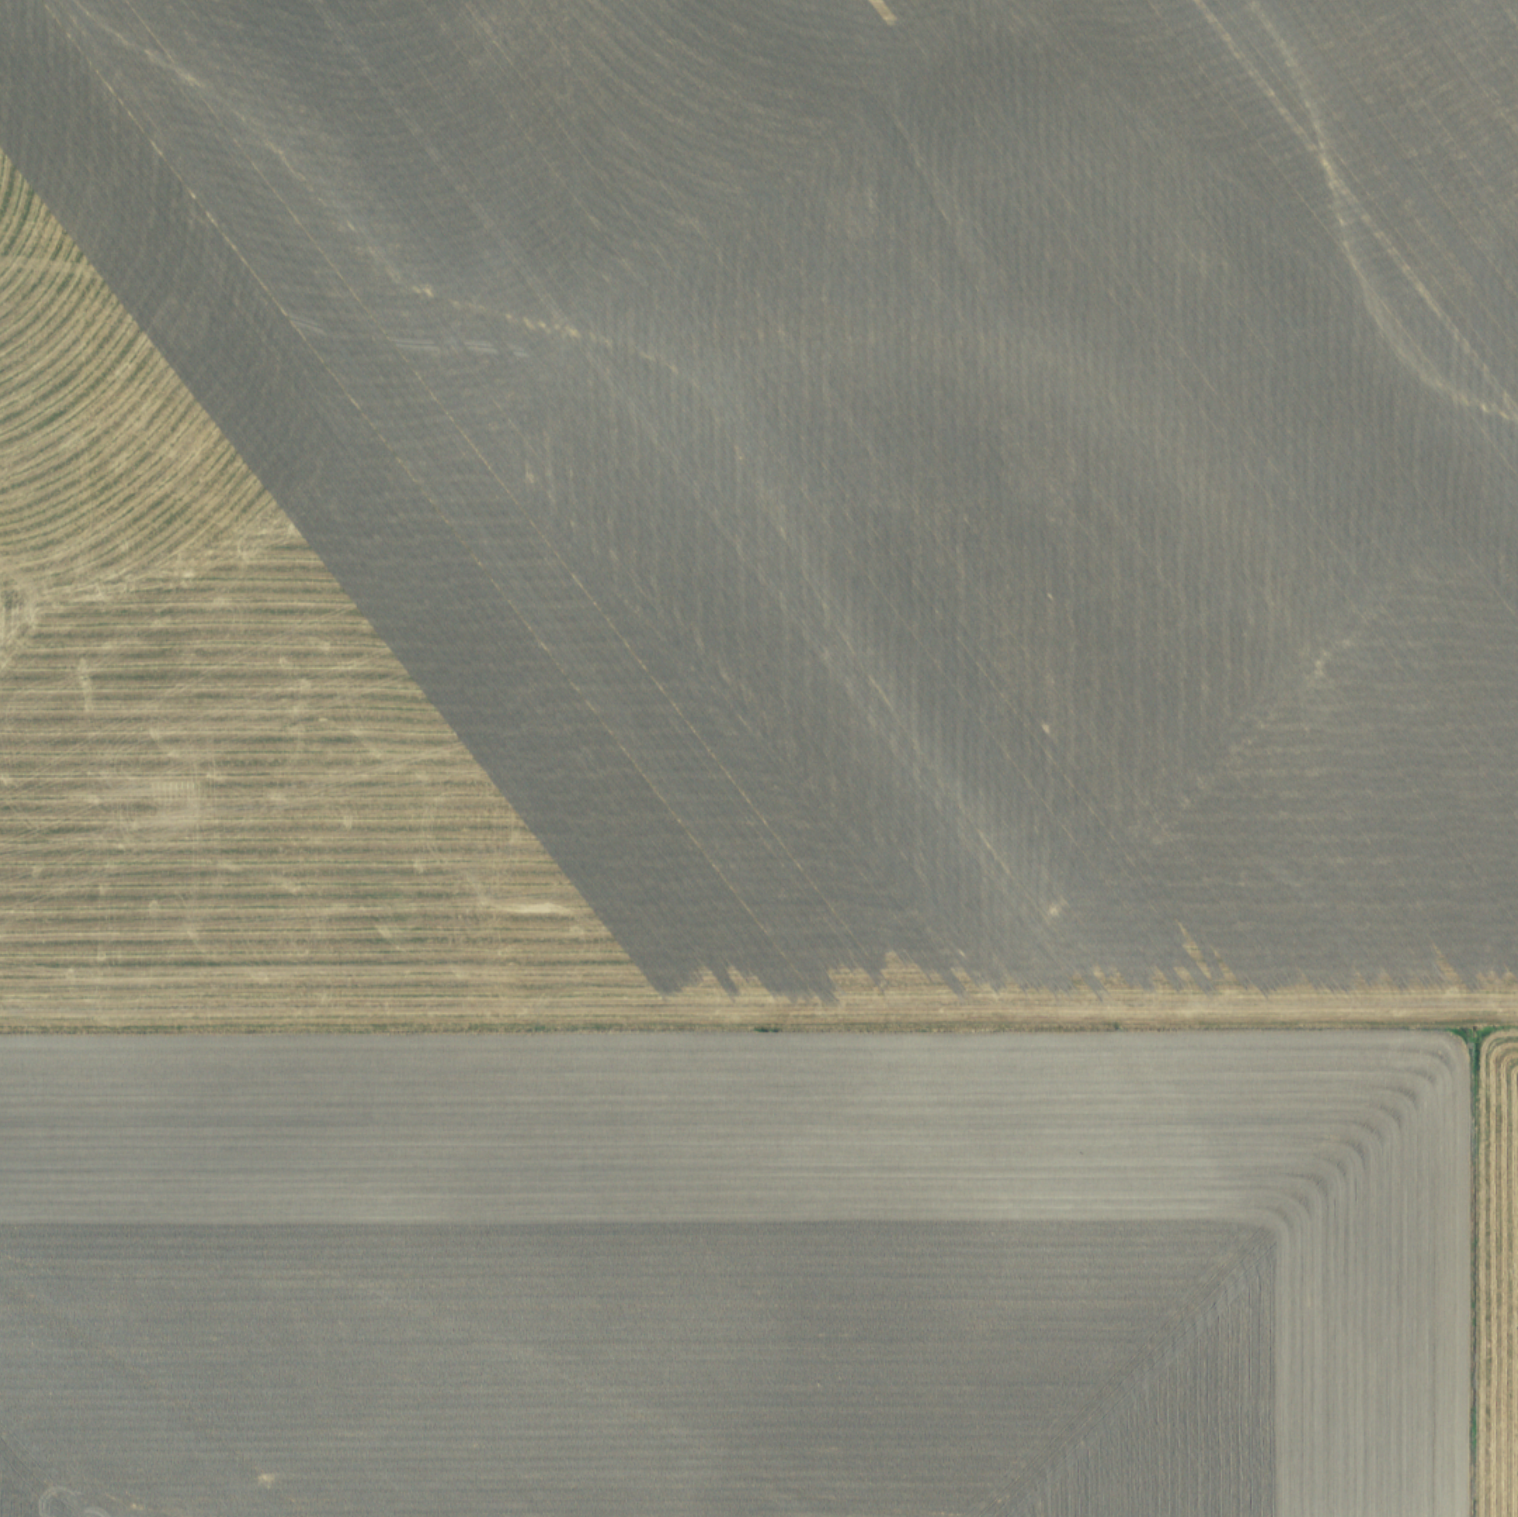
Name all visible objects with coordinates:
crop: (759, 758)

